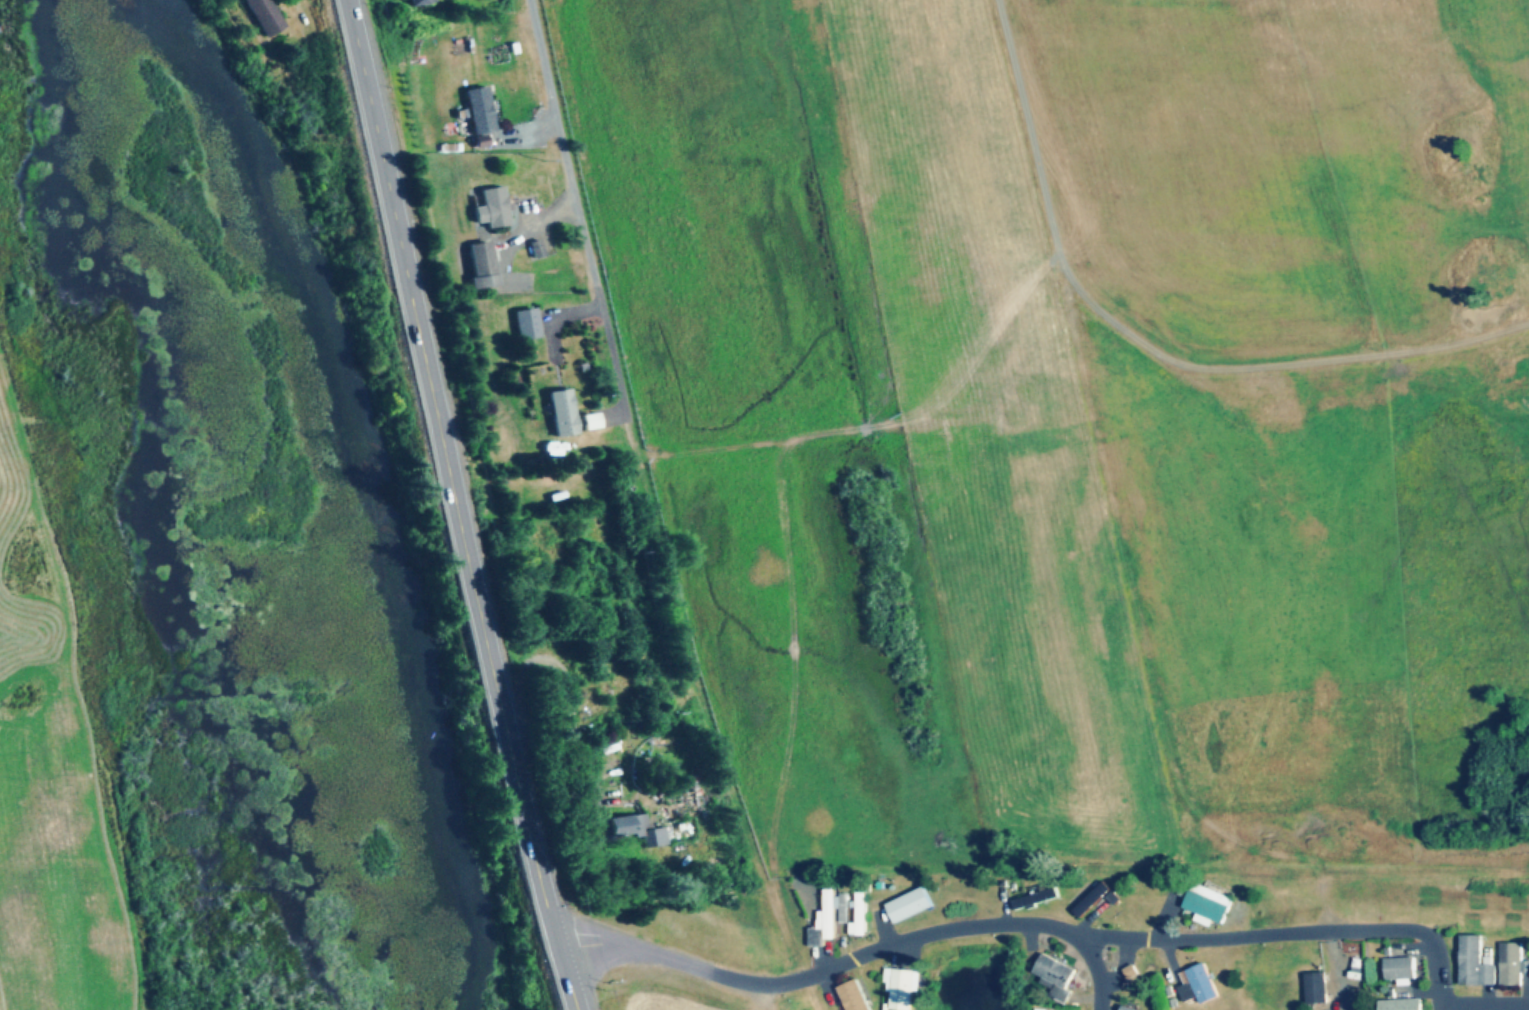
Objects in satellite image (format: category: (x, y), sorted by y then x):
building: (417, 2)
building: (265, 16)
building: (480, 110)
road: (582, 206)
building: (493, 208)
building: (540, 249)
building: (482, 258)
building: (529, 323)
road: (1149, 345)
building: (563, 412)
road: (454, 506)
railway: (698, 720)
building: (634, 830)
building: (1039, 897)
building: (1100, 900)
building: (1210, 904)
building: (911, 905)
building: (863, 914)
road: (1290, 934)
road: (855, 962)
building: (1476, 963)
building: (1513, 964)
building: (1401, 968)
building: (1058, 976)
building: (1202, 984)
building: (904, 987)
building: (1317, 988)
building: (856, 996)
building: (1401, 1004)
building: (1129, 1007)
road: (1487, 1007)

